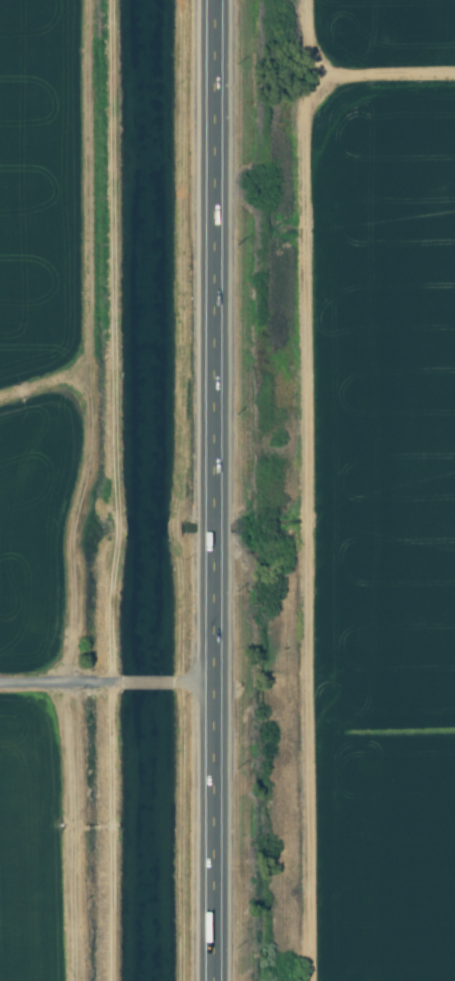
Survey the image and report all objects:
river: (152, 490)
road: (212, 490)
road: (57, 685)
road: (149, 685)
road: (197, 685)

